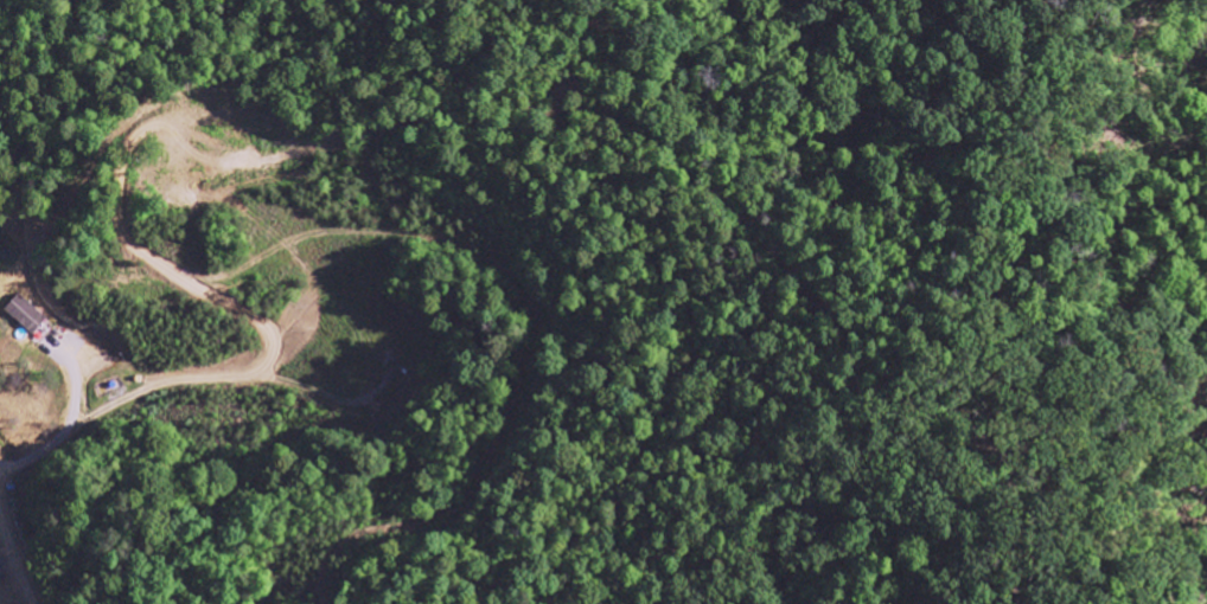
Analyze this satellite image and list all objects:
building: (26, 314)
road: (20, 554)

